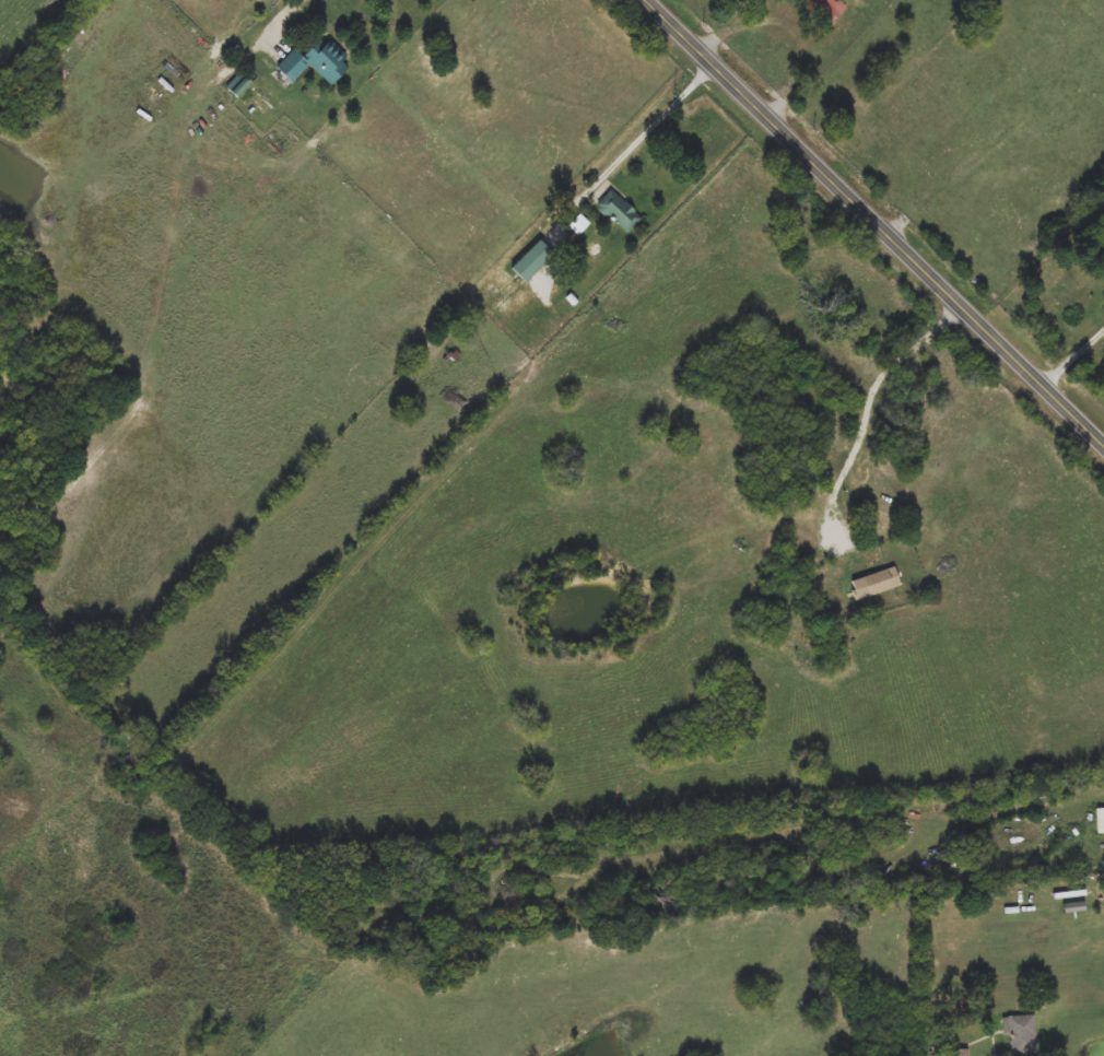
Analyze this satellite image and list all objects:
building: (826, 9)
road: (286, 10)
road: (792, 30)
building: (314, 63)
building: (242, 89)
road: (648, 133)
building: (619, 212)
road: (880, 218)
building: (578, 225)
road: (1076, 351)
road: (899, 364)
building: (807, 477)
building: (876, 584)
road: (1099, 785)
building: (1019, 1034)
building: (952, 1053)

